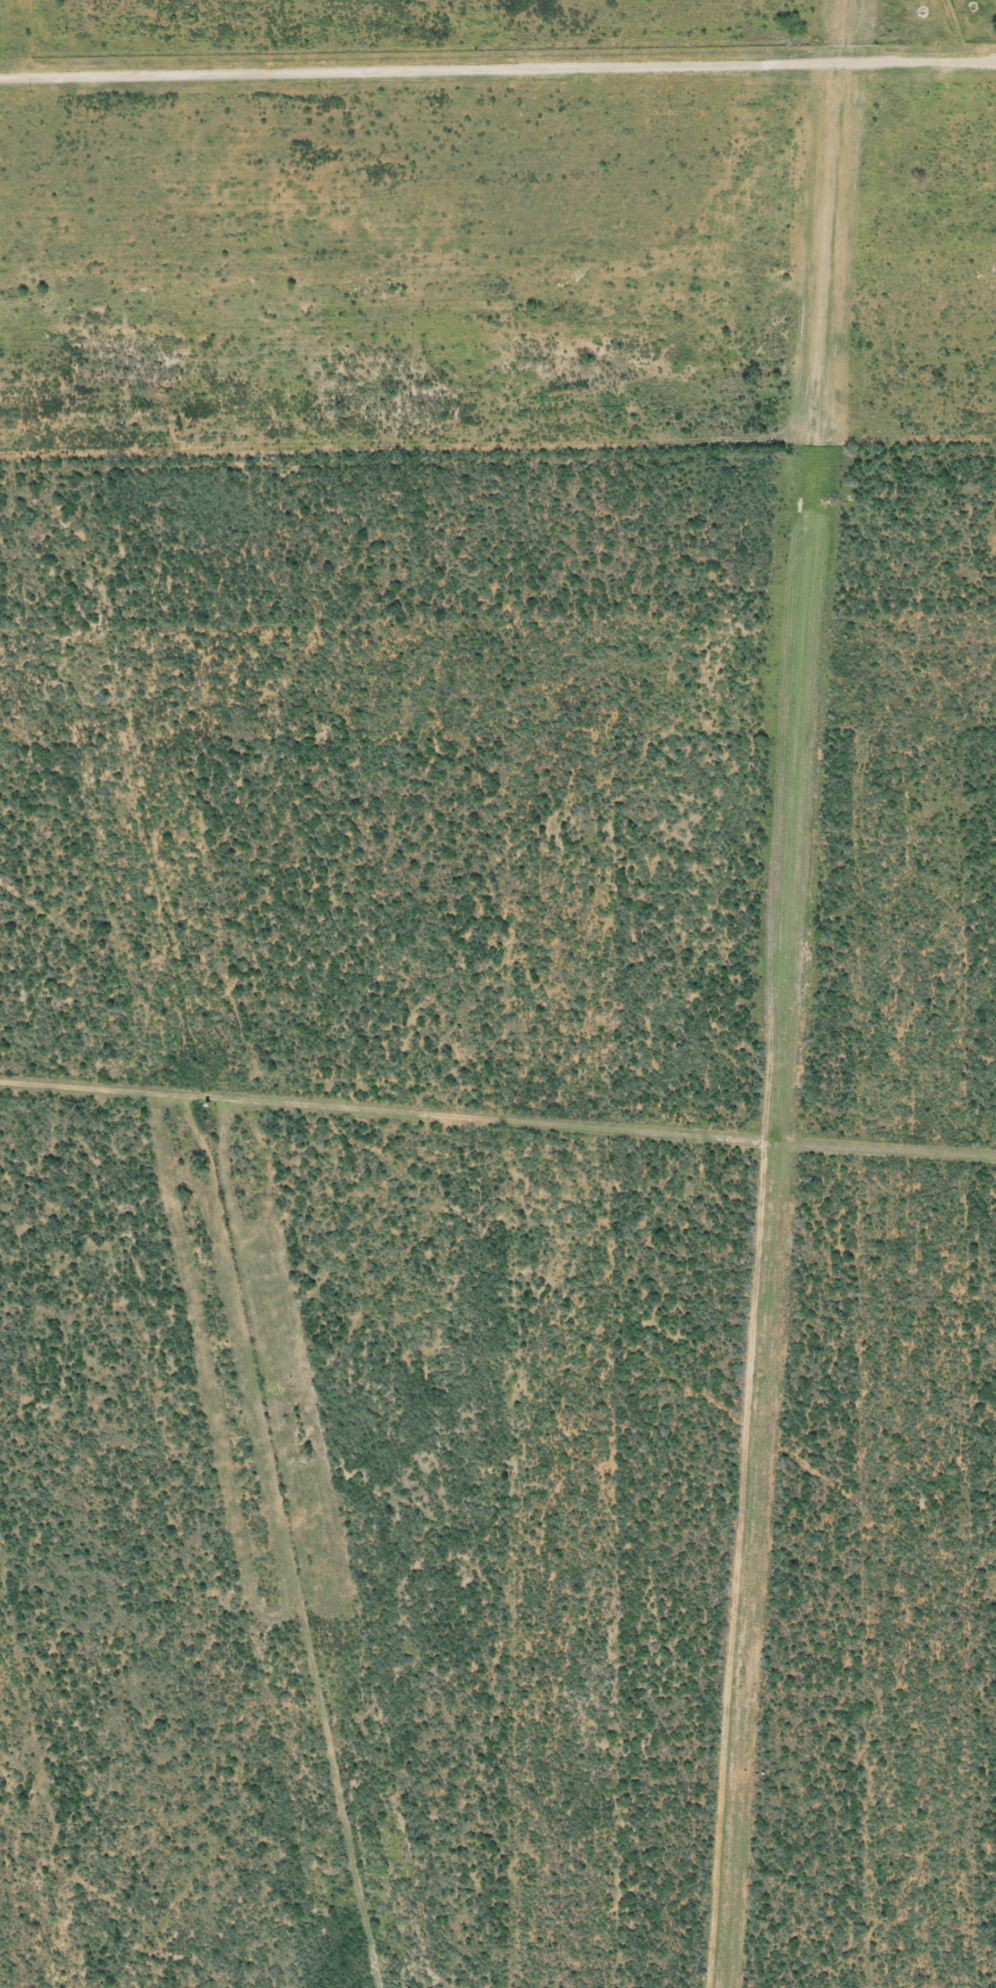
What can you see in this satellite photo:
road: (498, 88)

